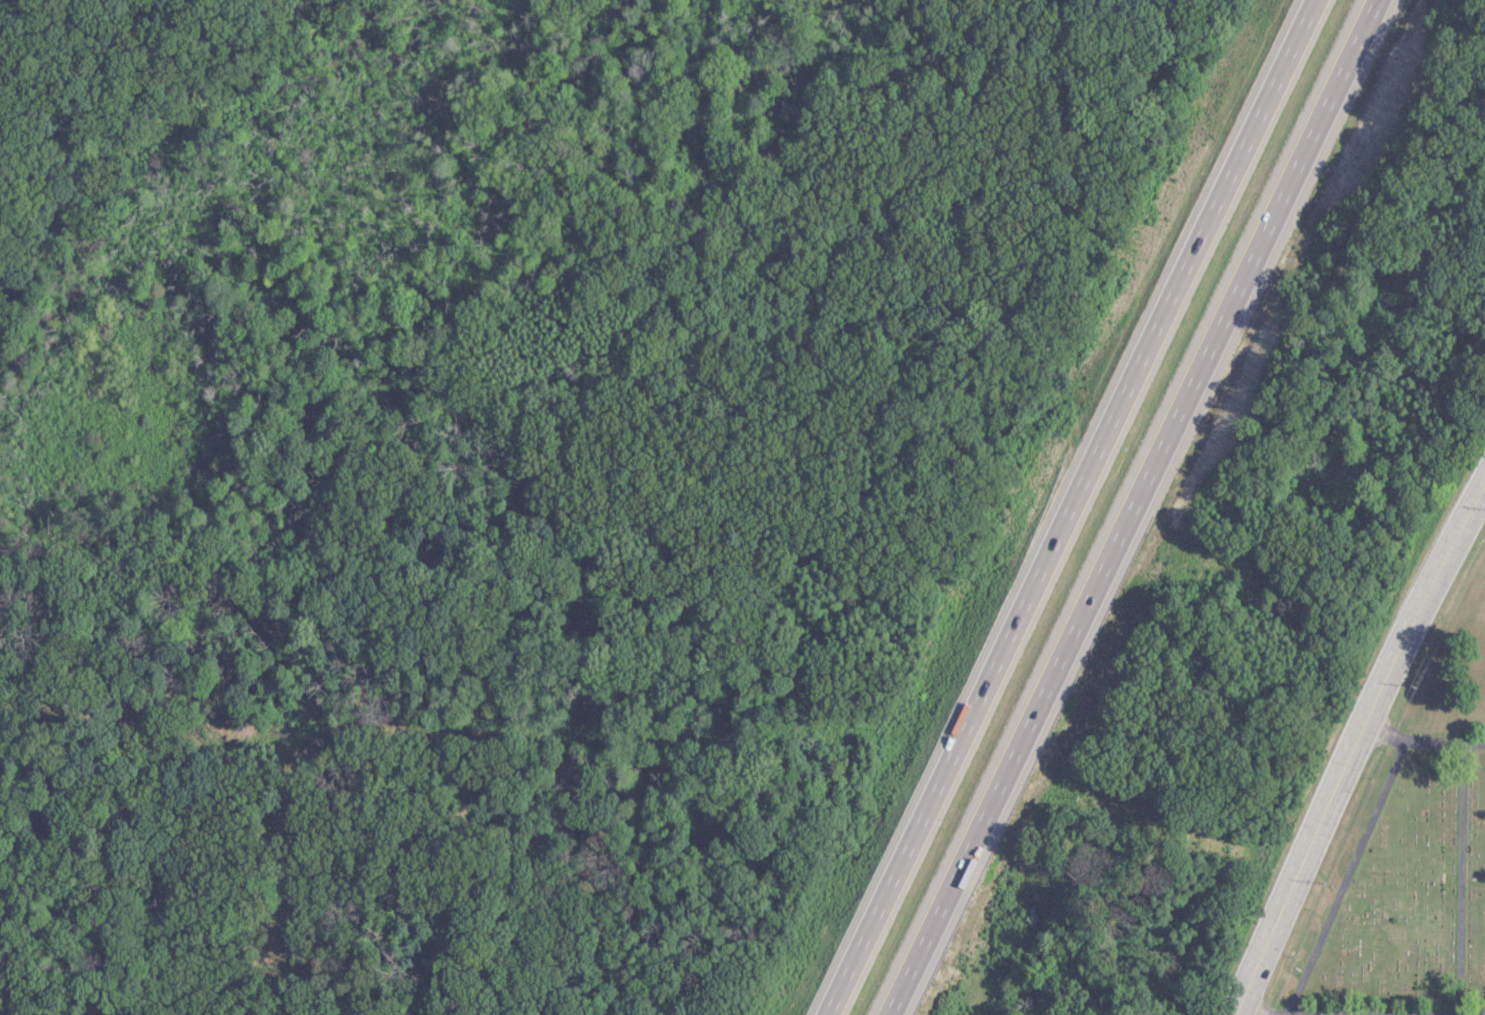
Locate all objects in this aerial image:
road: (1059, 507)
road: (1126, 507)
road: (1353, 746)
road: (1419, 754)
road: (1341, 884)
road: (1456, 886)
park: (1395, 893)

